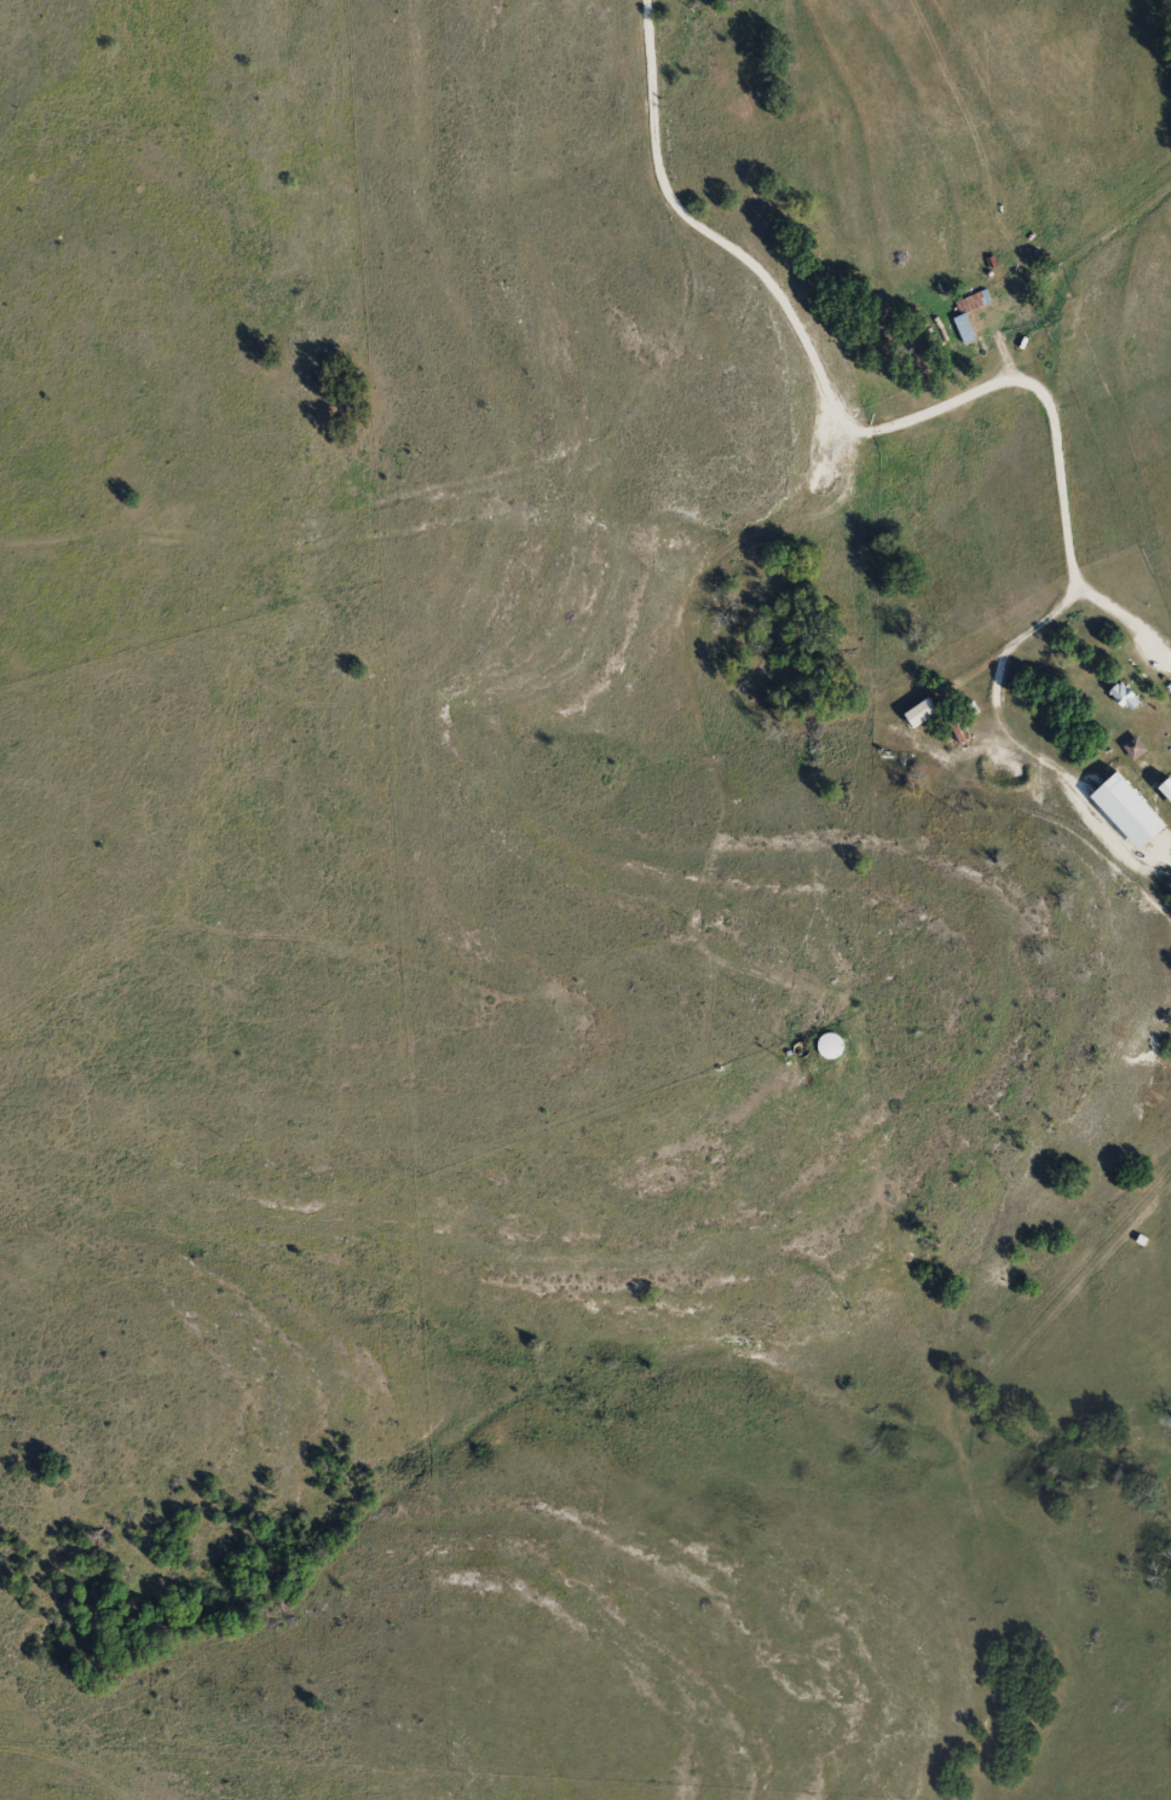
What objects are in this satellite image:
road: (739, 258)
building: (976, 299)
building: (961, 329)
building: (1120, 697)
building: (915, 714)

